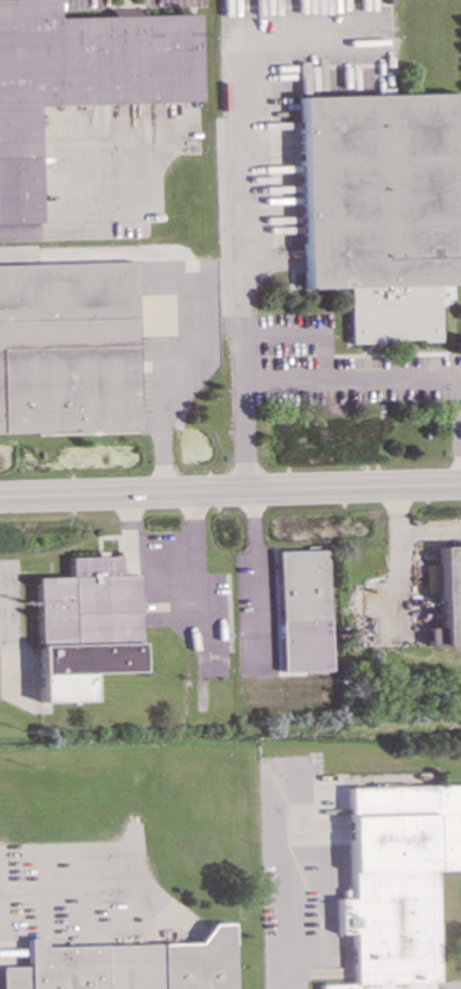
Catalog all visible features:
building: (81, 77)
building: (383, 207)
road: (83, 235)
road: (243, 266)
building: (68, 347)
road: (374, 378)
road: (164, 423)
road: (230, 493)
road: (410, 532)
road: (165, 577)
road: (256, 580)
building: (449, 598)
building: (302, 610)
building: (85, 626)
building: (396, 881)
road: (285, 884)
building: (126, 965)

